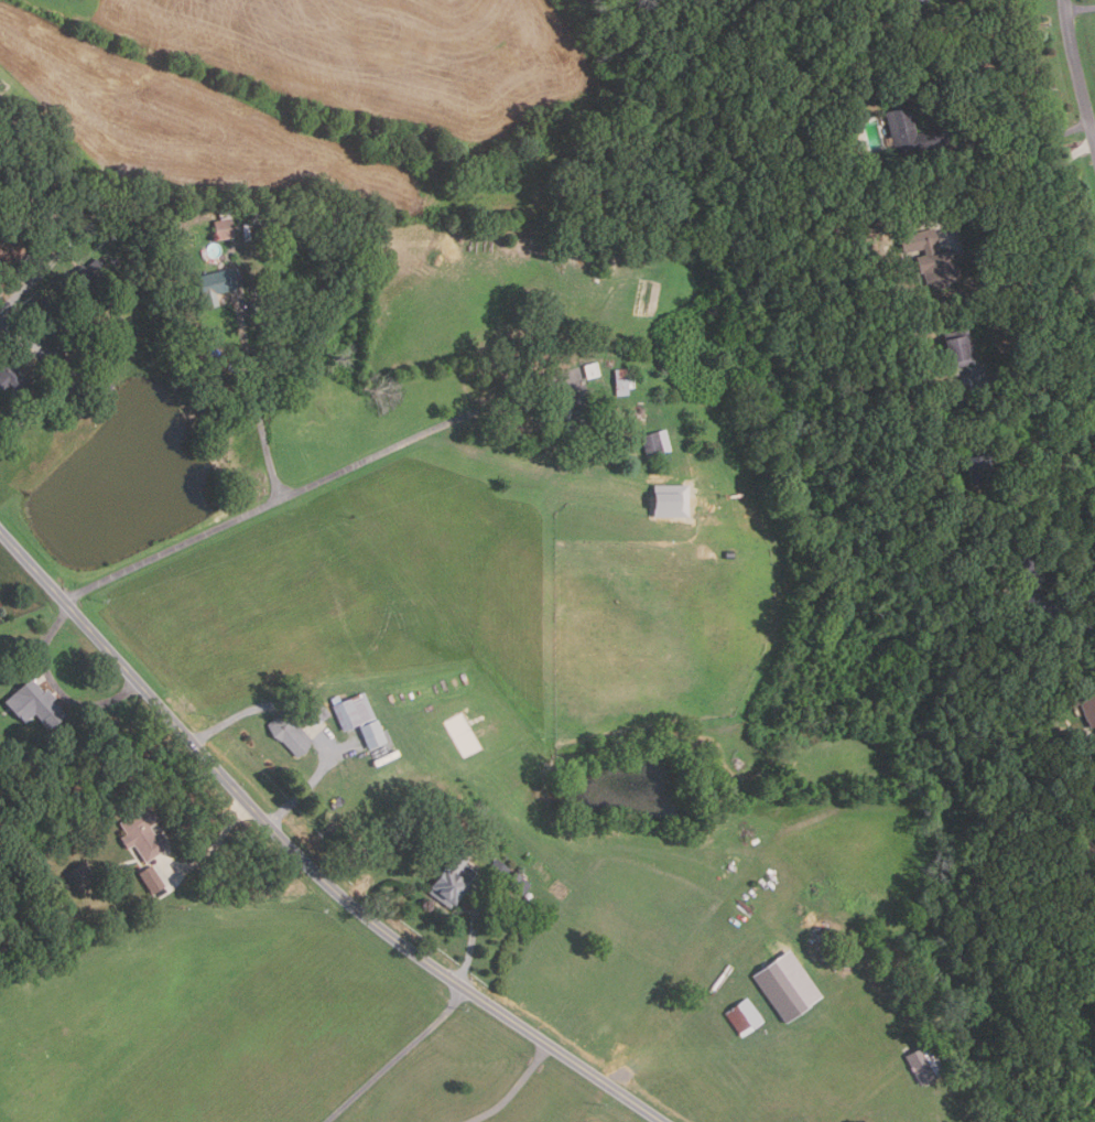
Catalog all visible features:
building: (923, 0)
road: (1080, 7)
road: (1076, 69)
building: (1, 115)
road: (1093, 125)
building: (907, 131)
road: (1023, 145)
road: (1017, 182)
building: (906, 209)
building: (44, 213)
building: (258, 220)
building: (227, 228)
road: (56, 233)
building: (918, 240)
building: (635, 255)
building: (598, 268)
building: (935, 268)
building: (91, 272)
building: (218, 285)
road: (9, 302)
building: (259, 306)
building: (64, 325)
building: (78, 346)
building: (955, 347)
building: (589, 369)
building: (14, 377)
road: (1028, 377)
road: (52, 379)
building: (621, 381)
building: (100, 382)
road: (256, 400)
road: (1031, 408)
building: (571, 410)
building: (653, 441)
building: (977, 467)
road: (292, 492)
building: (952, 496)
building: (1026, 578)
road: (1074, 624)
road: (58, 686)
building: (1084, 701)
building: (37, 703)
building: (350, 709)
building: (314, 711)
road: (306, 722)
building: (288, 733)
building: (369, 733)
building: (1050, 746)
building: (145, 832)
road: (213, 849)
road: (303, 860)
building: (496, 869)
building: (82, 876)
building: (154, 878)
building: (449, 880)
building: (516, 883)
road: (475, 936)
building: (779, 990)
building: (741, 1016)
road: (395, 1057)
building: (924, 1062)
road: (514, 1090)

